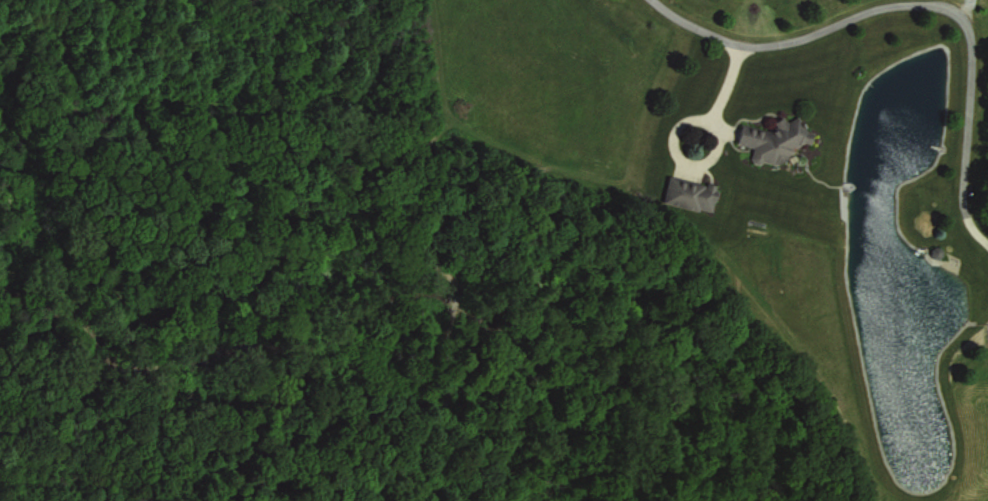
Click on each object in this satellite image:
road: (919, 2)
building: (774, 138)
building: (688, 193)

